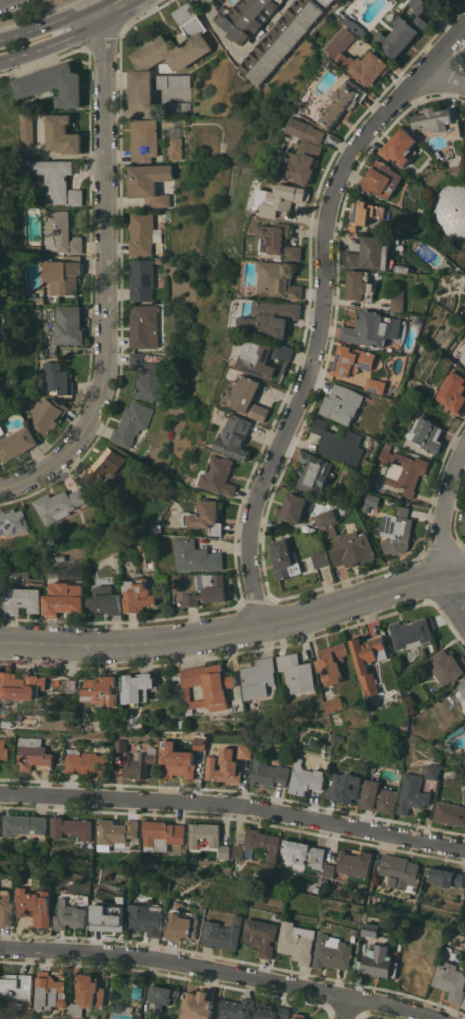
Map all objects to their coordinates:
road: (4, 1)
building: (330, 1)
building: (441, 1)
road: (94, 2)
road: (203, 2)
road: (120, 12)
road: (94, 14)
road: (142, 14)
building: (248, 17)
road: (45, 22)
building: (361, 26)
building: (406, 30)
road: (71, 36)
building: (282, 39)
road: (102, 41)
road: (245, 49)
road: (21, 55)
building: (166, 55)
building: (361, 58)
road: (42, 61)
building: (172, 80)
road: (442, 80)
building: (53, 84)
building: (345, 101)
building: (175, 108)
building: (310, 109)
building: (439, 120)
building: (26, 127)
building: (61, 134)
building: (142, 139)
building: (399, 146)
building: (174, 147)
building: (306, 150)
building: (437, 153)
building: (454, 170)
building: (381, 178)
building: (56, 181)
building: (149, 183)
building: (283, 198)
building: (449, 210)
storage tank: (449, 210)
building: (363, 213)
building: (167, 215)
building: (60, 233)
building: (142, 233)
building: (280, 241)
building: (373, 253)
building: (156, 260)
building: (446, 265)
building: (402, 267)
building: (63, 274)
building: (280, 278)
building: (141, 279)
road: (104, 280)
building: (360, 285)
building: (399, 299)
building: (388, 303)
road: (321, 306)
building: (271, 317)
building: (68, 324)
building: (142, 324)
building: (372, 328)
building: (464, 338)
building: (264, 355)
building: (353, 360)
building: (464, 364)
building: (57, 377)
building: (148, 377)
building: (376, 385)
building: (452, 391)
building: (247, 397)
building: (342, 403)
building: (46, 413)
building: (129, 423)
building: (425, 433)
building: (236, 436)
building: (16, 442)
building: (339, 442)
building: (101, 466)
building: (402, 468)
building: (311, 471)
building: (220, 475)
building: (370, 501)
building: (57, 504)
building: (292, 506)
road: (443, 507)
building: (205, 516)
building: (325, 517)
building: (464, 517)
building: (12, 521)
building: (464, 521)
building: (158, 528)
building: (311, 529)
building: (396, 529)
building: (330, 531)
building: (142, 542)
building: (352, 549)
building: (196, 556)
building: (60, 557)
building: (284, 558)
building: (321, 558)
building: (207, 590)
building: (138, 595)
road: (454, 596)
building: (0, 597)
building: (65, 598)
building: (25, 599)
building: (105, 600)
road: (235, 629)
building: (412, 632)
building: (370, 657)
building: (333, 662)
building: (446, 665)
building: (297, 672)
building: (260, 678)
building: (24, 685)
building: (208, 686)
building: (101, 687)
building: (139, 687)
building: (462, 691)
building: (337, 704)
building: (464, 720)
building: (367, 722)
building: (198, 743)
building: (120, 744)
building: (3, 749)
building: (243, 750)
building: (32, 752)
building: (85, 761)
building: (139, 761)
building: (177, 765)
building: (223, 768)
building: (266, 770)
building: (433, 770)
building: (304, 778)
building: (344, 786)
building: (464, 792)
building: (412, 793)
building: (378, 796)
road: (234, 805)
building: (449, 812)
building: (23, 824)
building: (72, 828)
building: (114, 831)
building: (162, 835)
building: (207, 837)
building: (258, 845)
building: (303, 852)
building: (377, 860)
building: (354, 862)
building: (328, 869)
building: (400, 871)
building: (444, 876)
building: (325, 881)
building: (315, 888)
building: (464, 889)
building: (136, 897)
building: (375, 898)
building: (36, 904)
building: (6, 907)
building: (70, 914)
building: (107, 918)
building: (147, 918)
building: (182, 924)
building: (371, 928)
building: (223, 933)
building: (261, 935)
building: (297, 941)
building: (333, 952)
building: (379, 961)
road: (219, 972)
building: (451, 981)
building: (17, 986)
building: (50, 991)
building: (87, 994)
building: (163, 994)
building: (464, 1004)
building: (197, 1005)
building: (464, 1007)
building: (236, 1008)
road: (345, 1008)
building: (271, 1011)
building: (299, 1015)
building: (145, 1017)

